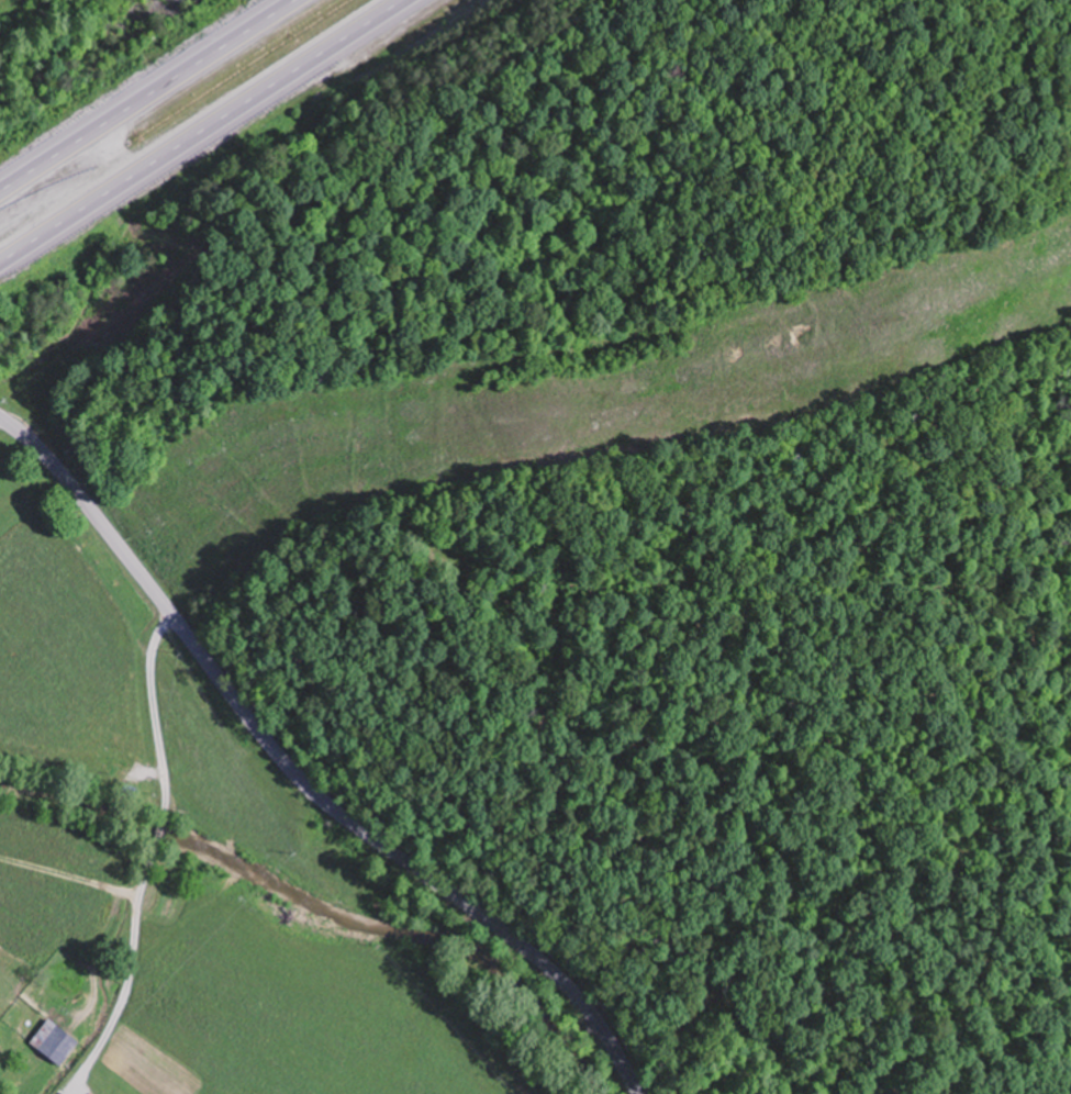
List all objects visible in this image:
road: (143, 93)
road: (204, 130)
building: (108, 758)
road: (299, 777)
building: (62, 1045)

